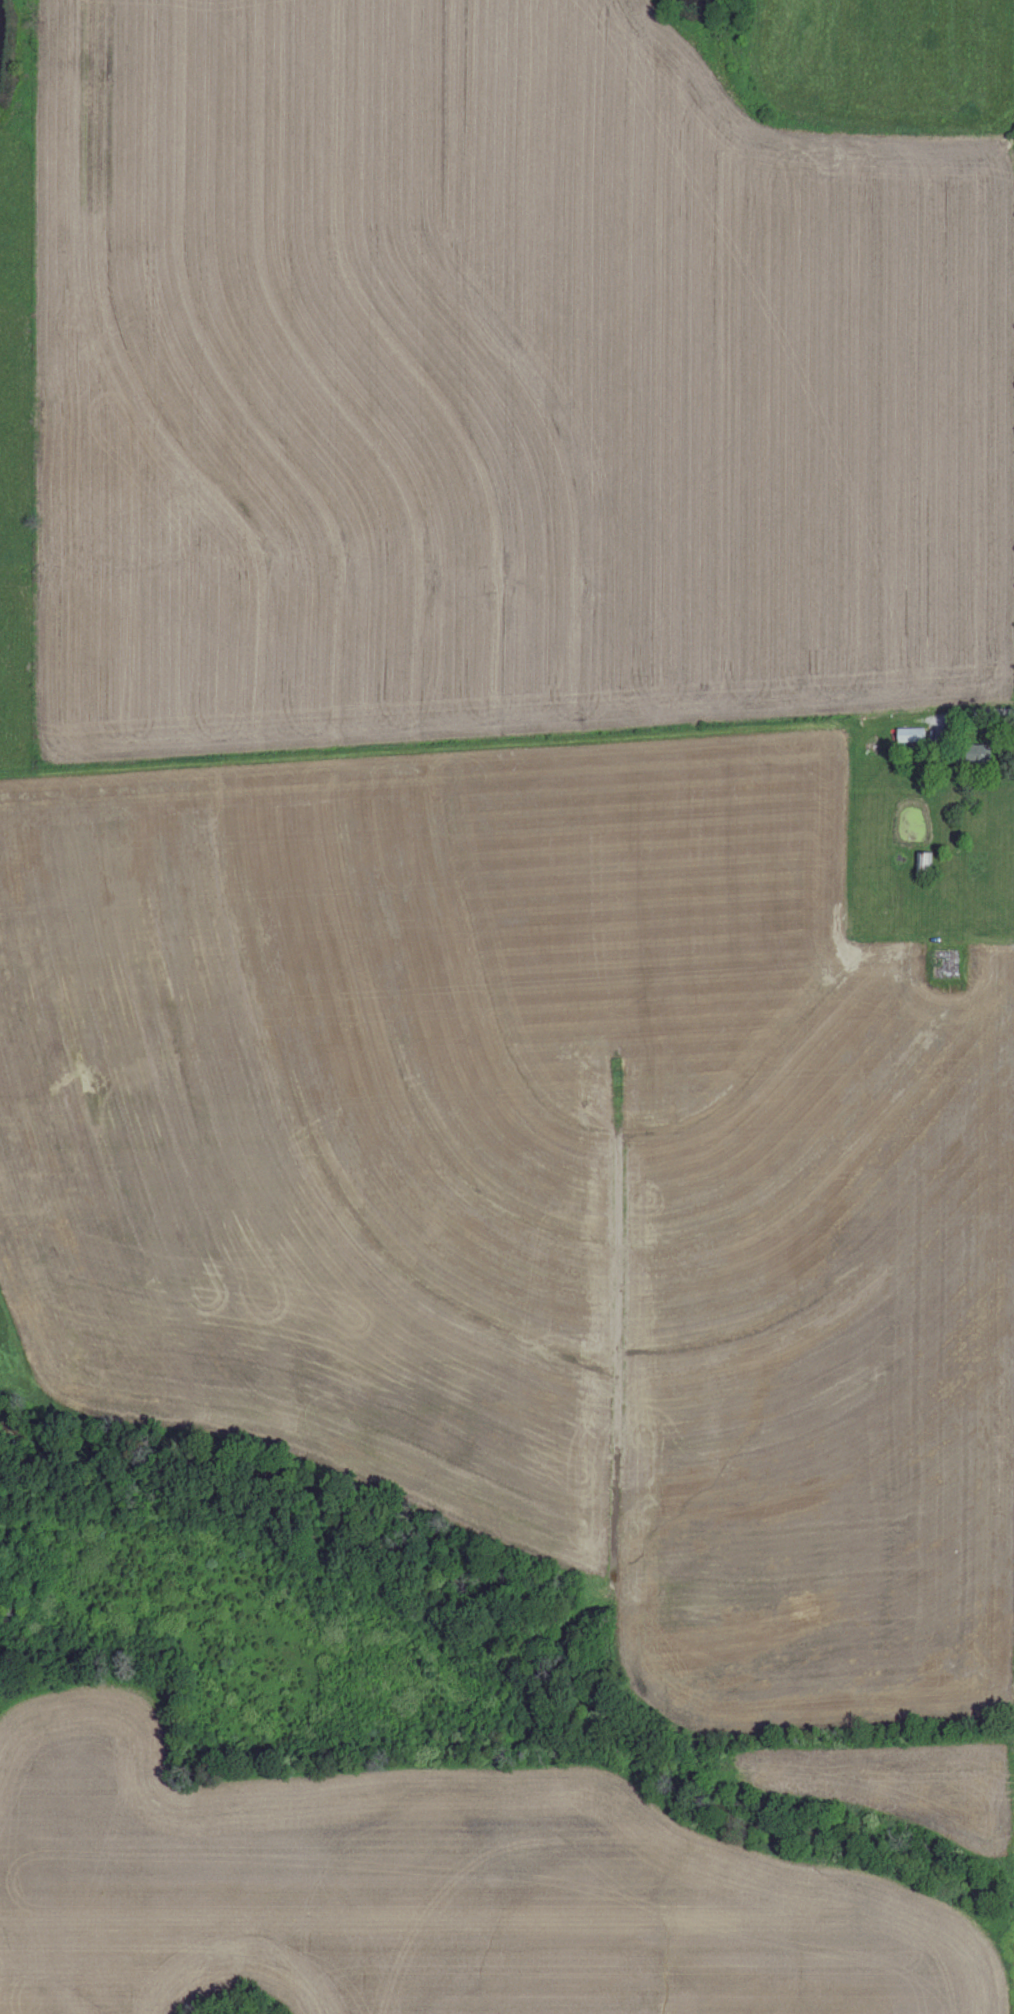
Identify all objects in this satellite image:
road: (959, 721)
building: (911, 737)
building: (973, 755)
building: (923, 865)
building: (944, 967)

